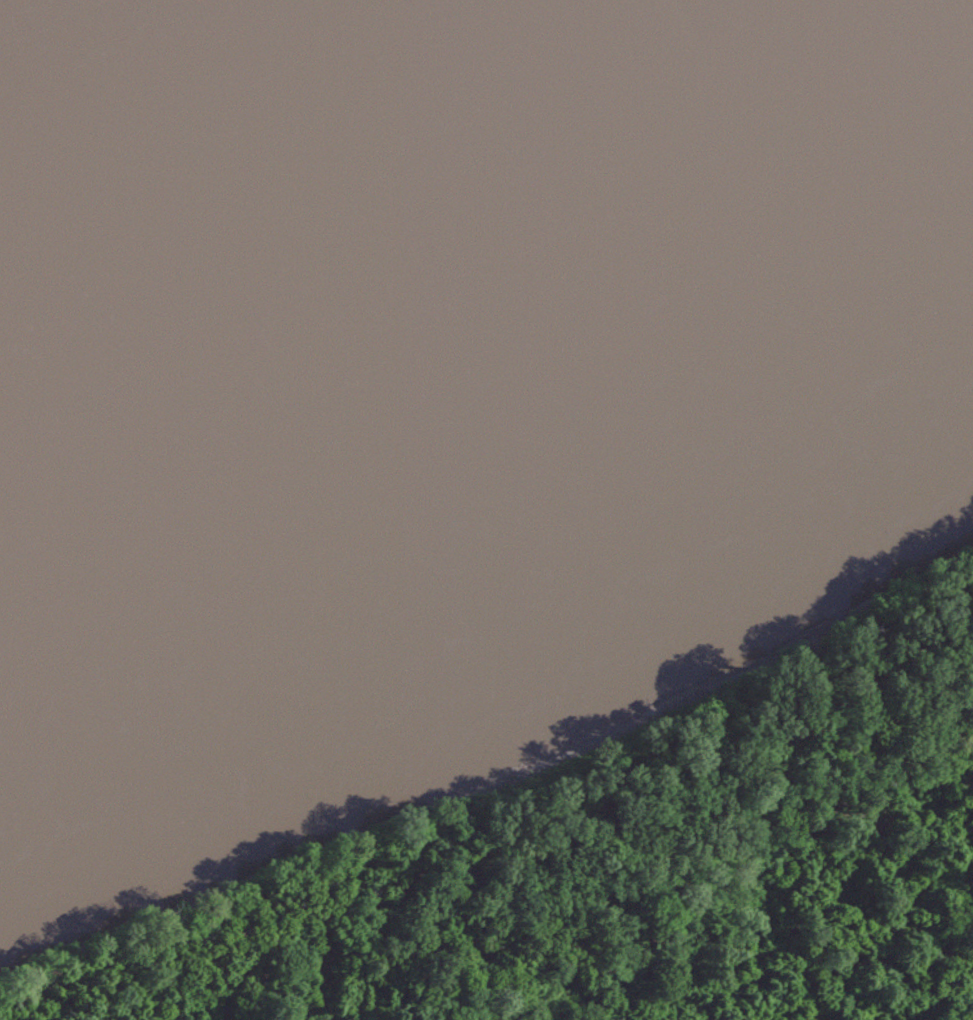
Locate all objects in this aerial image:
river: (486, 273)

